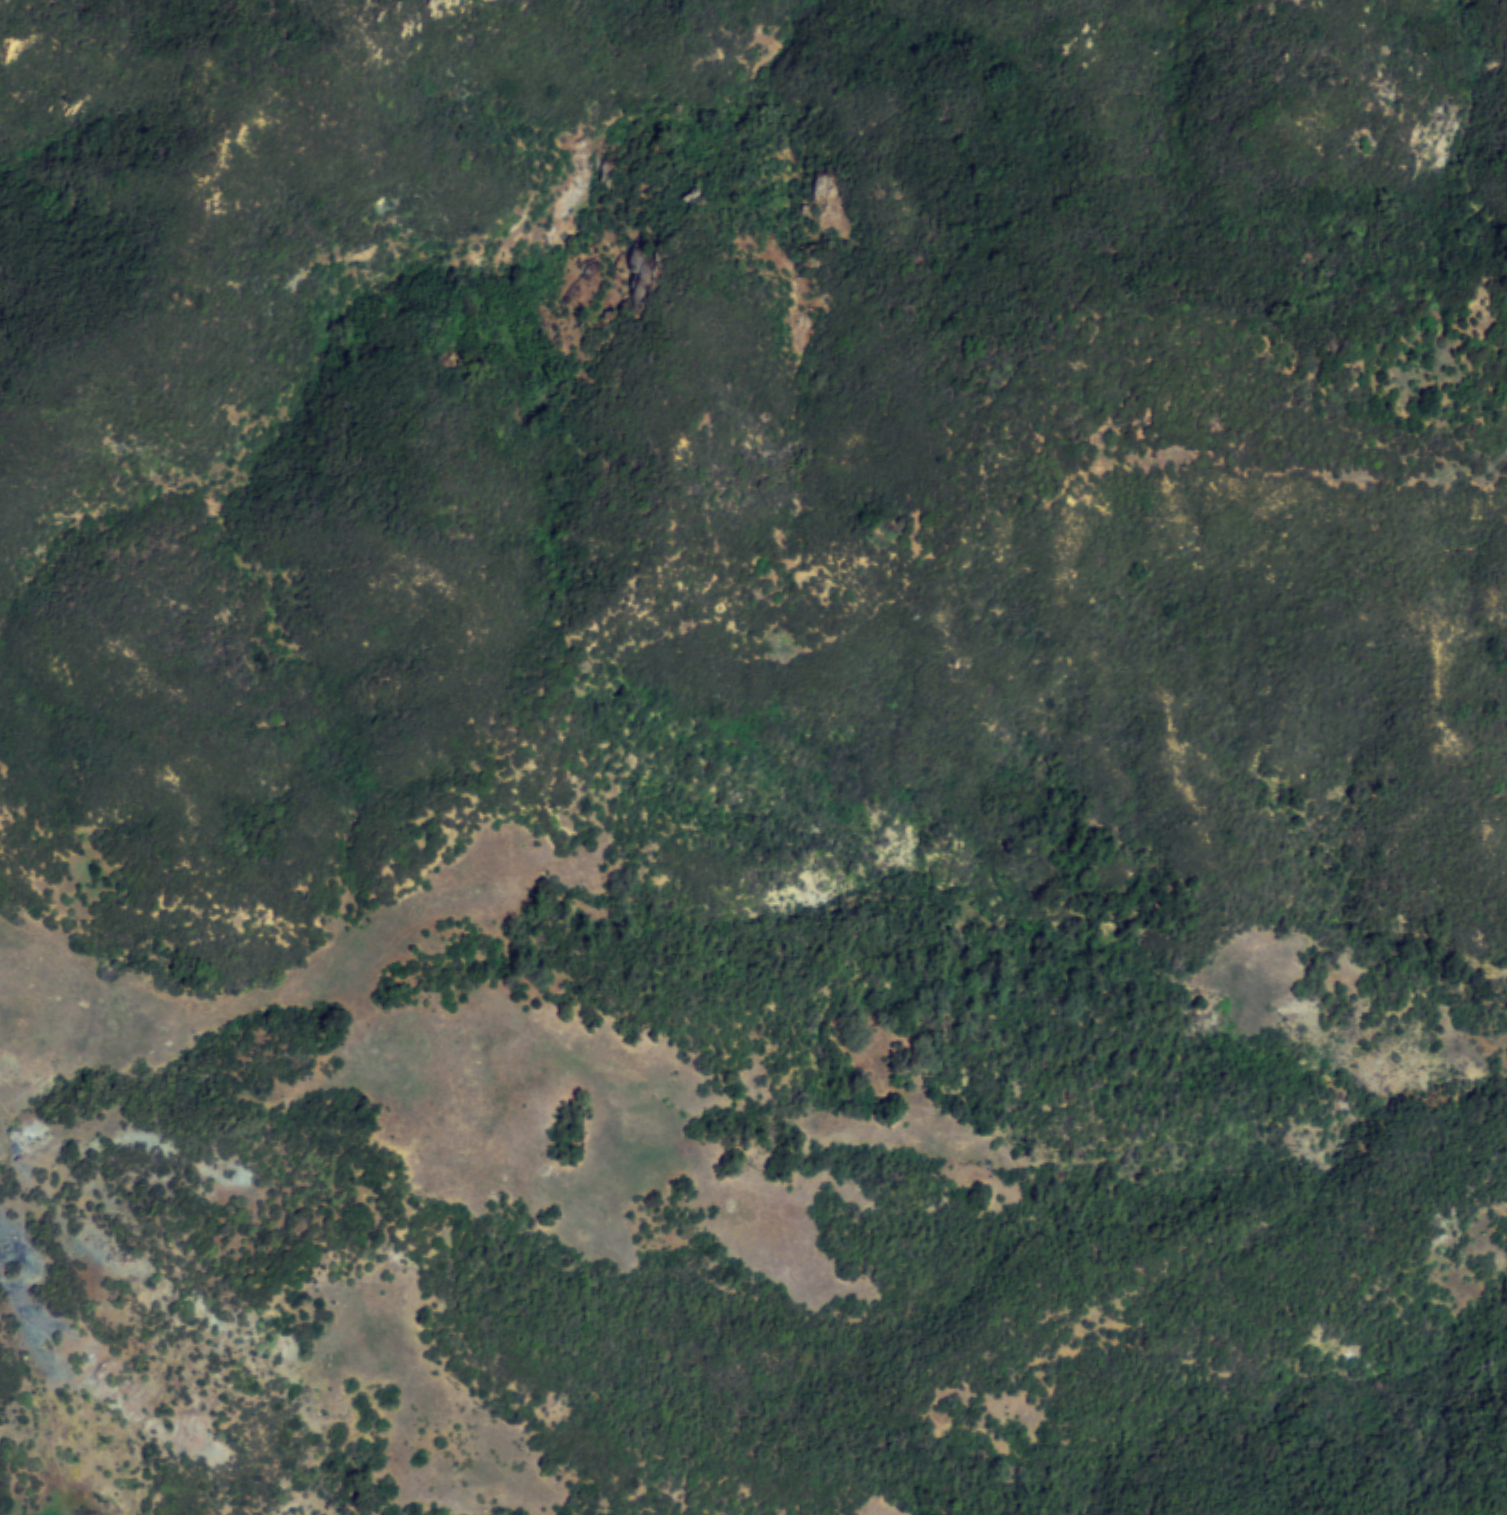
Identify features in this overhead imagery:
road: (33, 1321)

